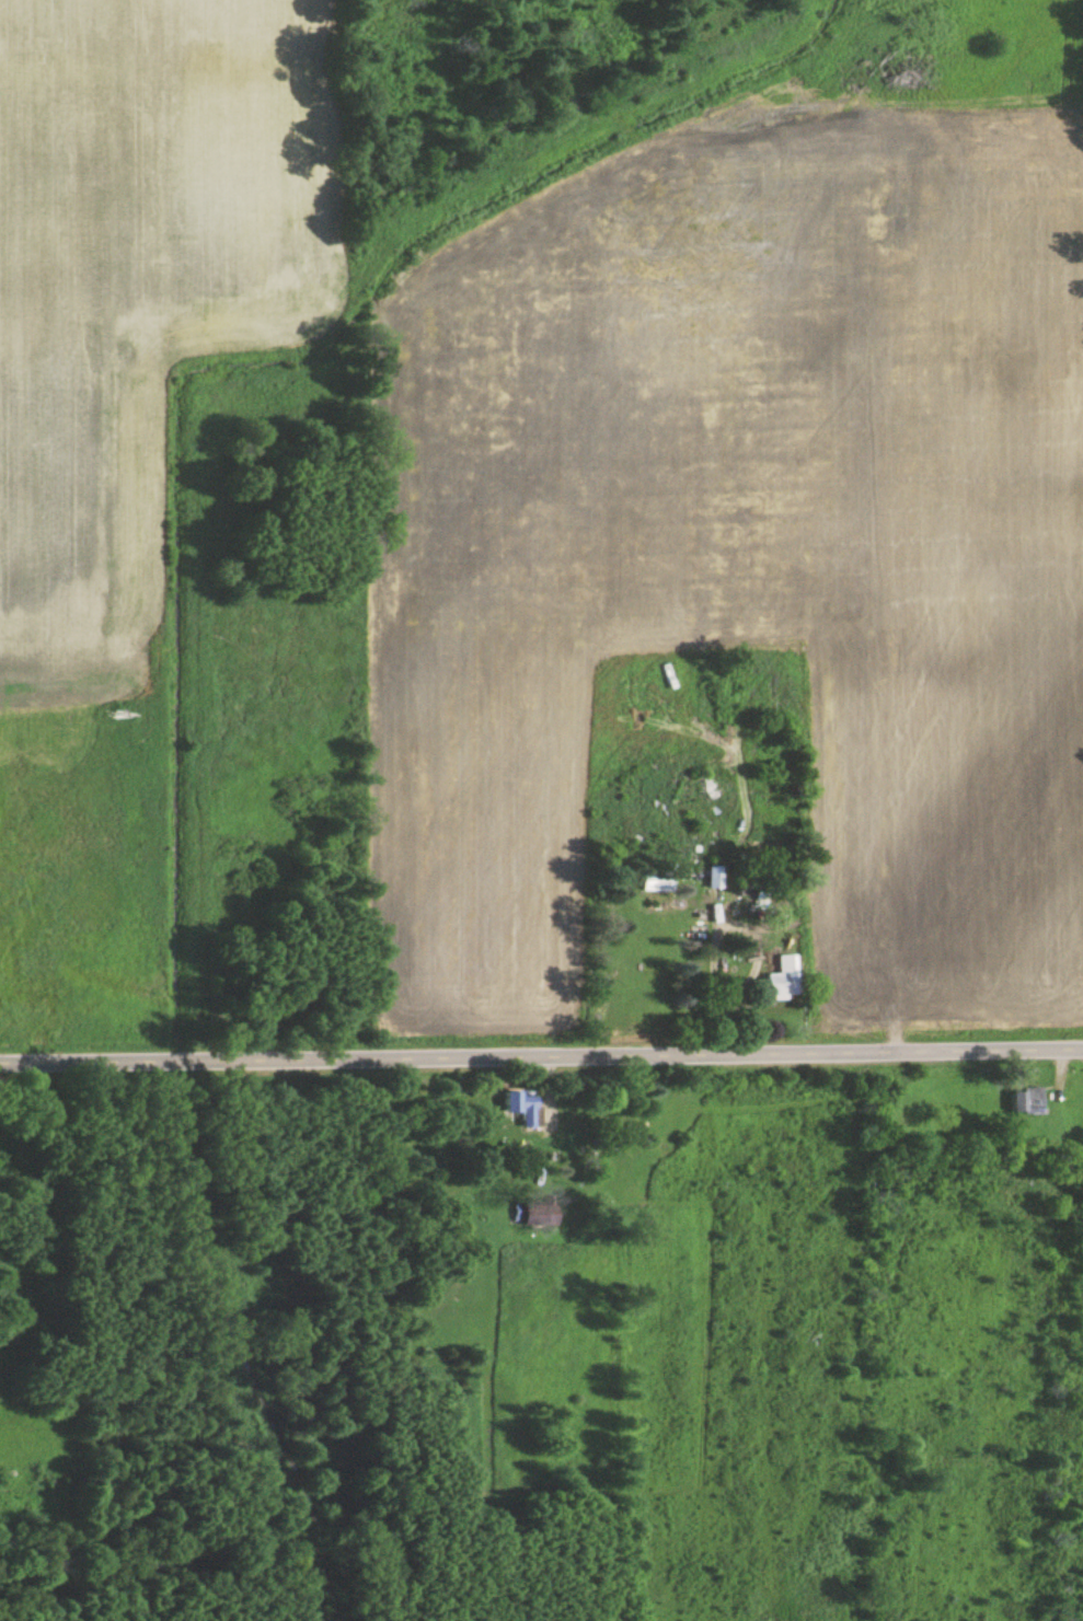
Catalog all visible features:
building: (689, 792)
building: (712, 880)
building: (654, 883)
building: (781, 981)
road: (541, 1056)
building: (1025, 1102)
building: (521, 1109)
building: (535, 1218)

